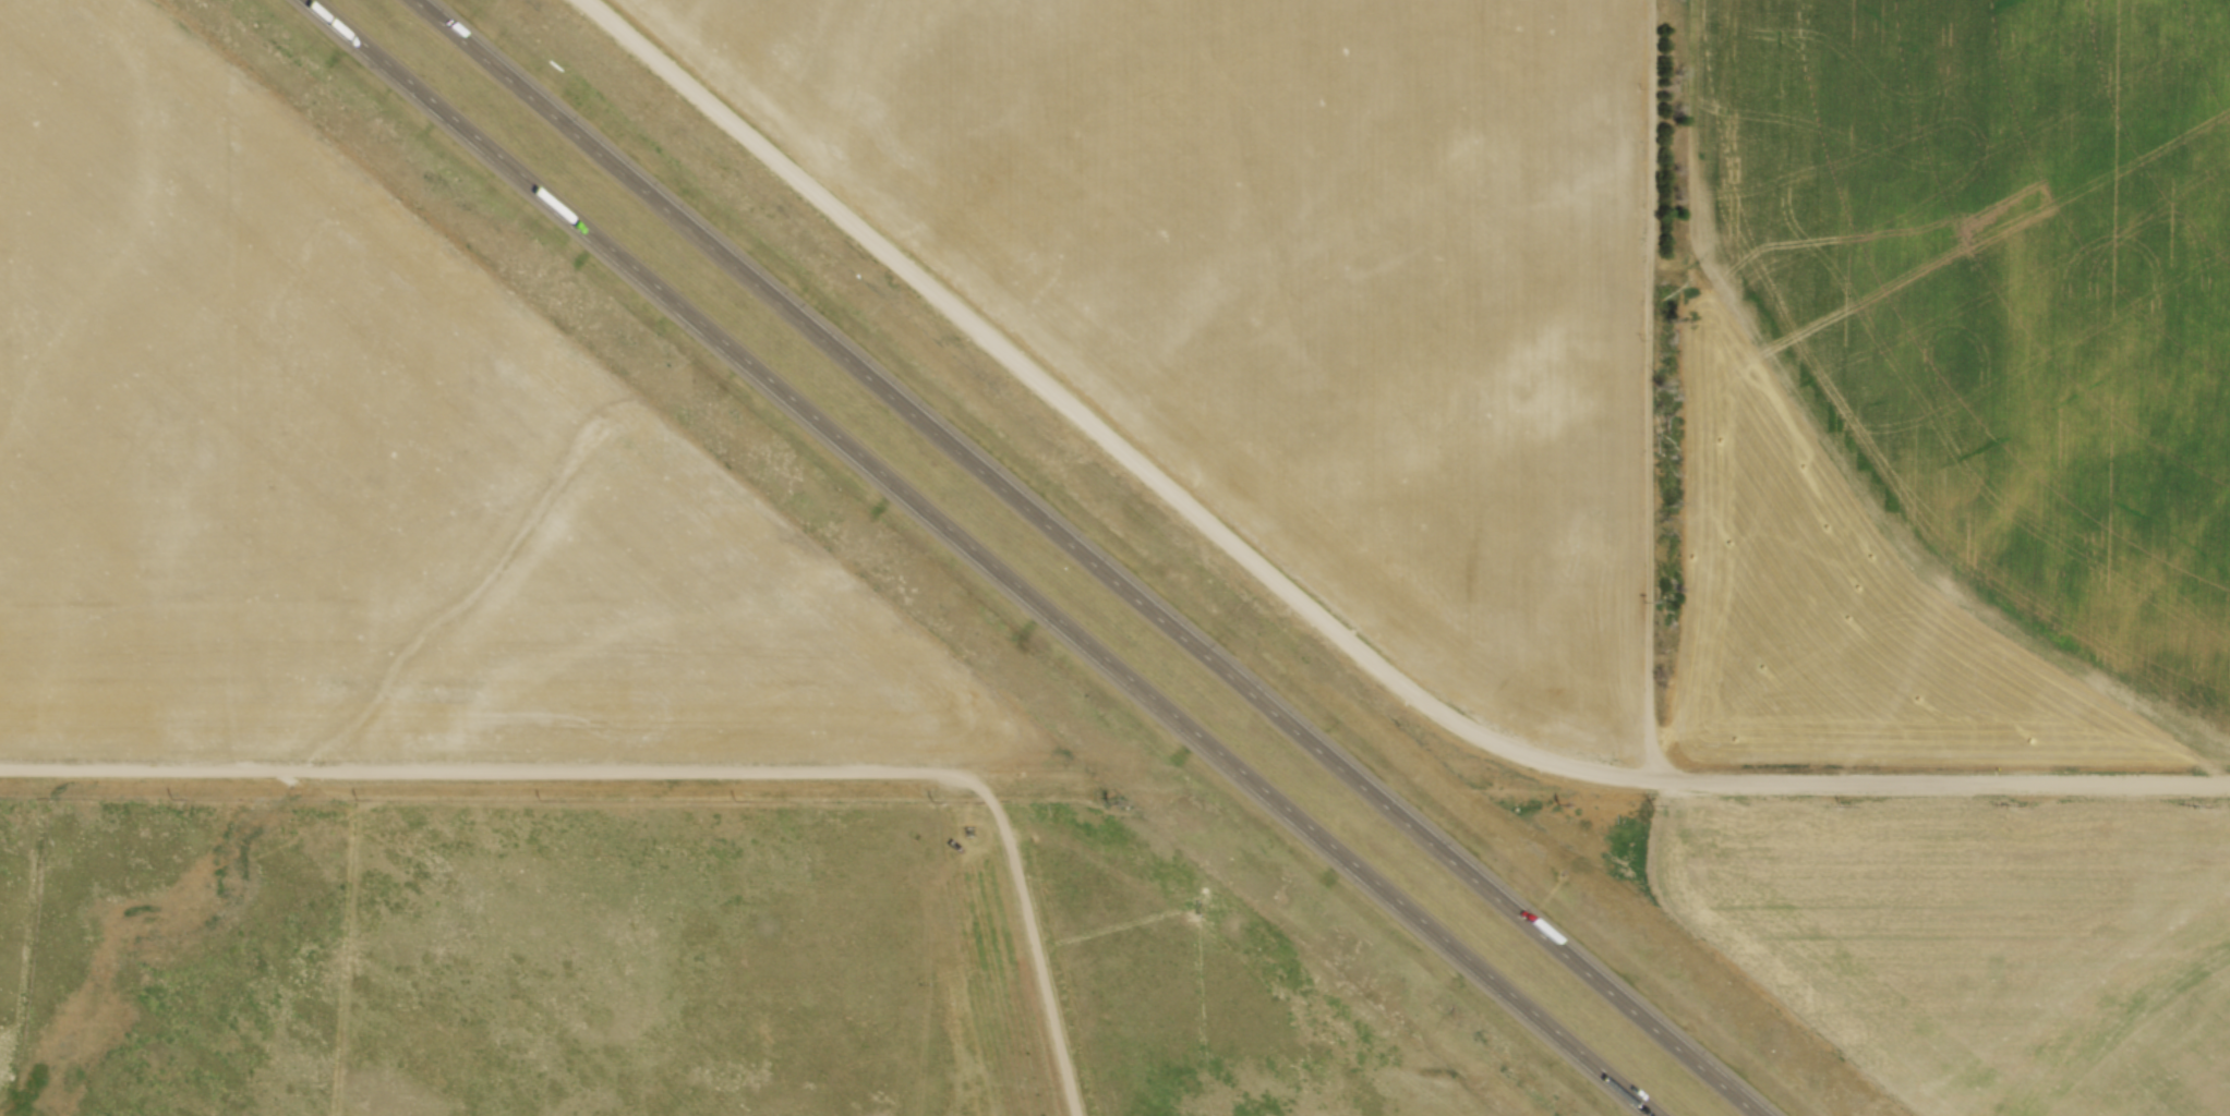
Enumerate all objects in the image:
crop: (1291, 277)
crop: (1960, 381)
crop: (359, 477)
road: (985, 557)
road: (1088, 557)
road: (1309, 620)
road: (661, 779)
crop: (1977, 946)

